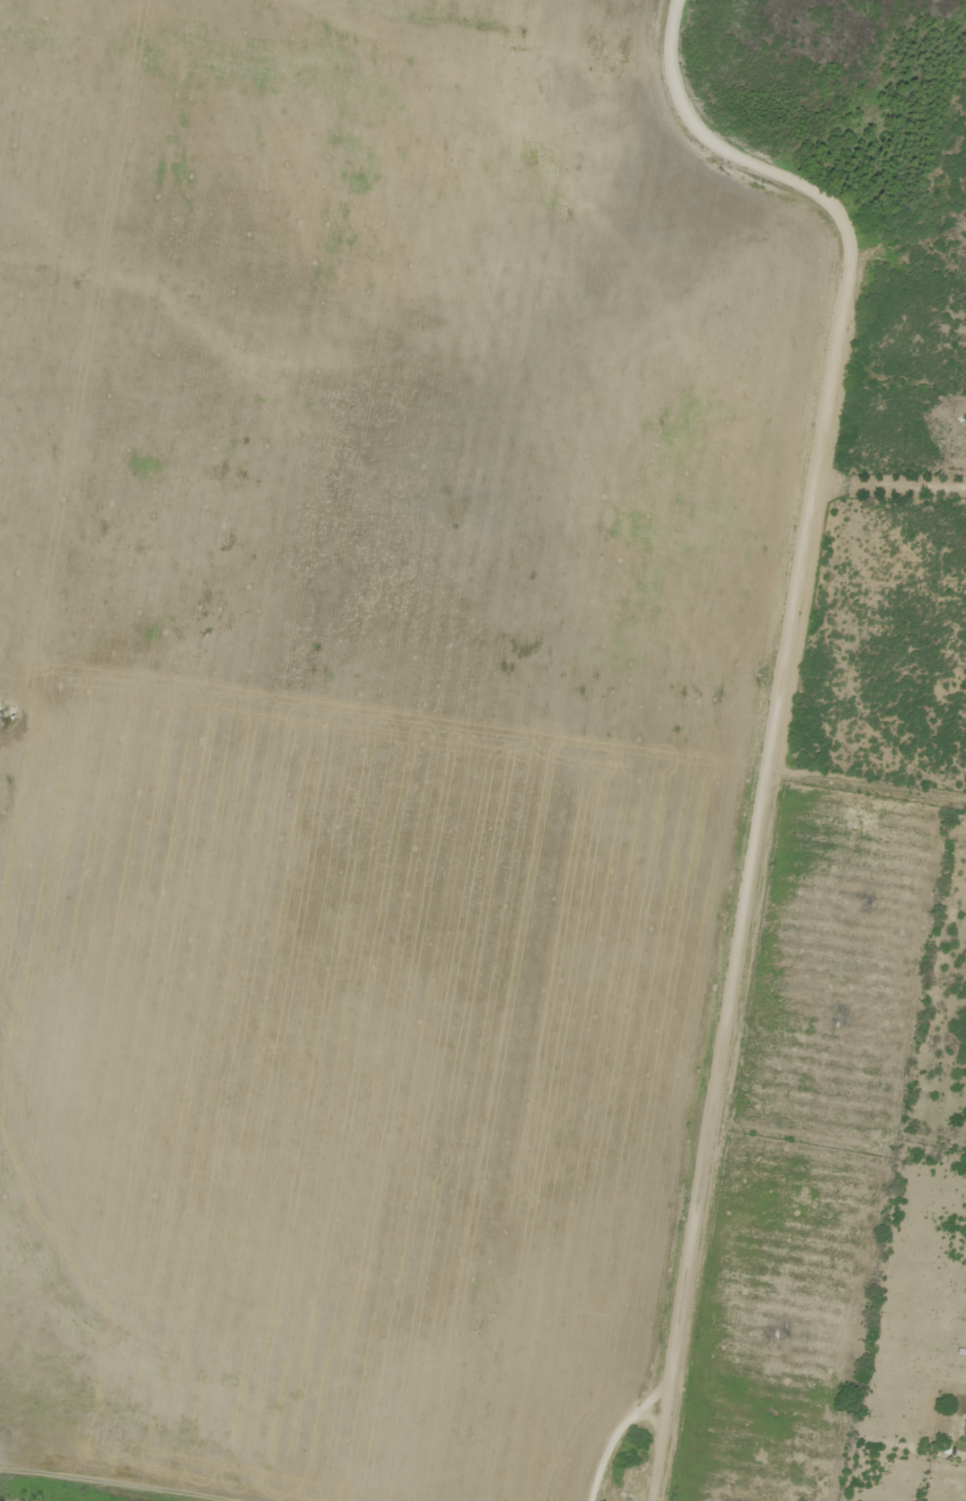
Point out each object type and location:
road: (769, 704)
building: (964, 1429)
road: (56, 1487)

